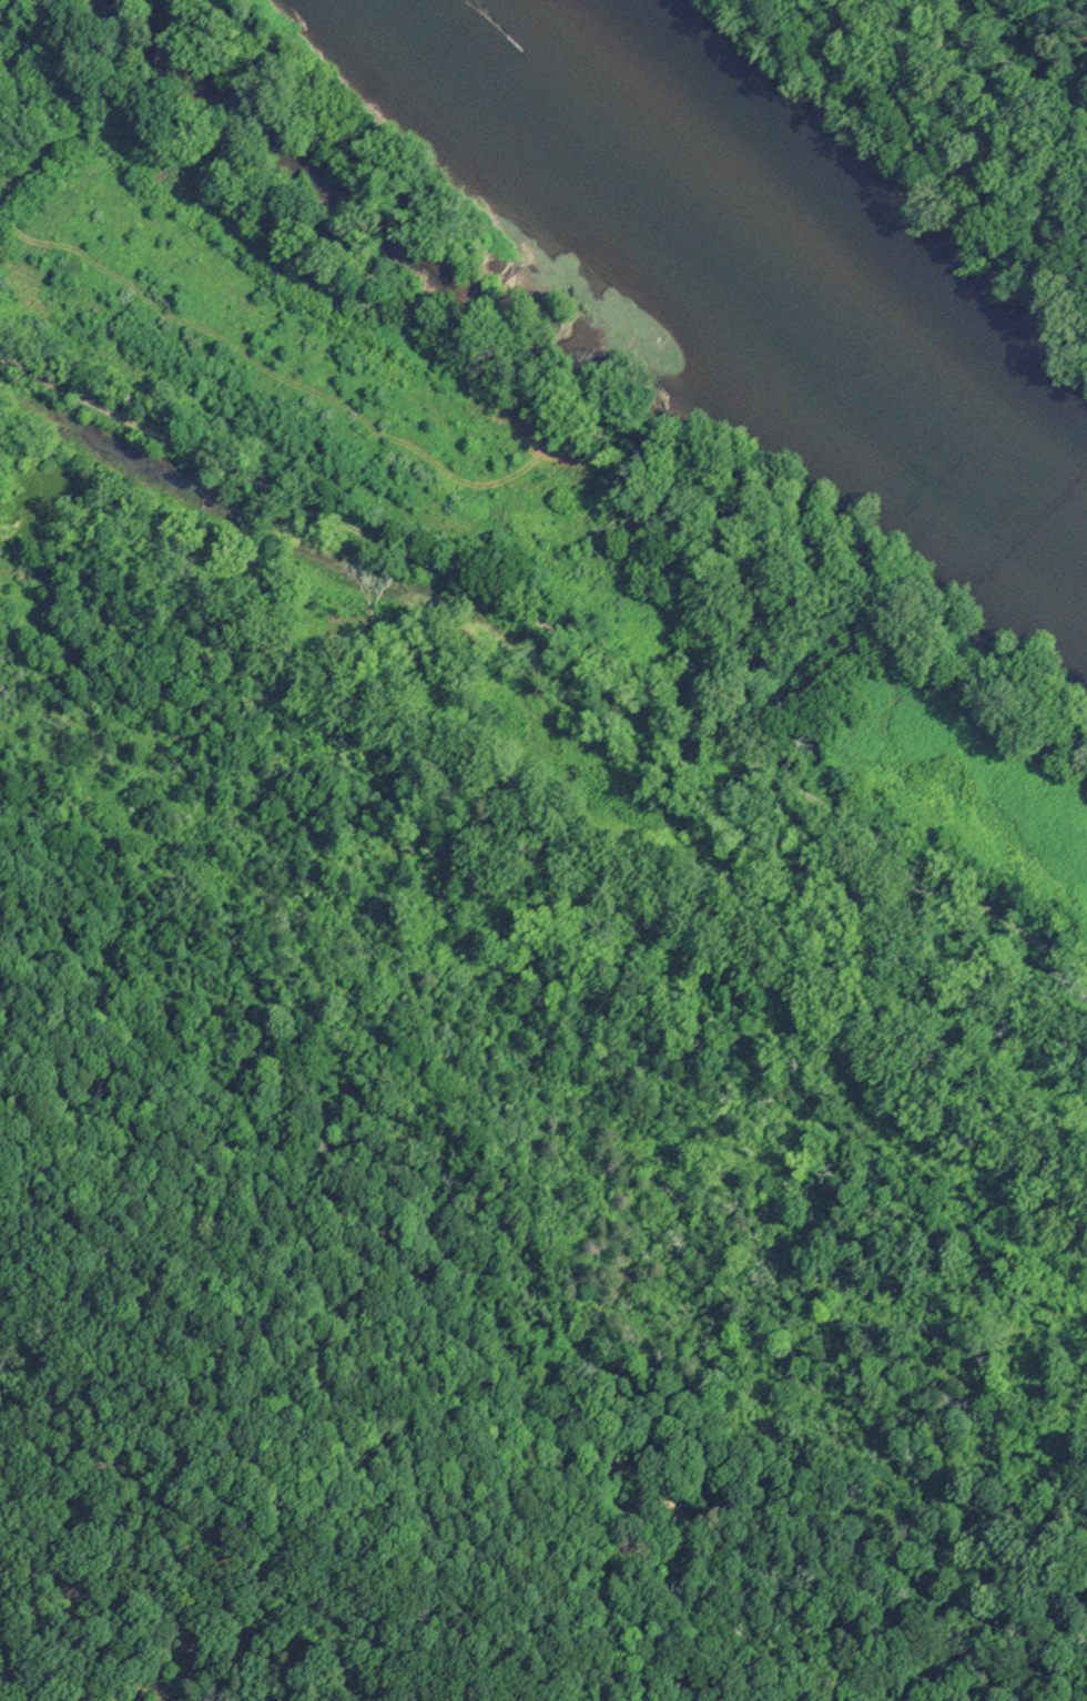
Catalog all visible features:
river: (793, 263)
road: (561, 635)
road: (453, 1301)

